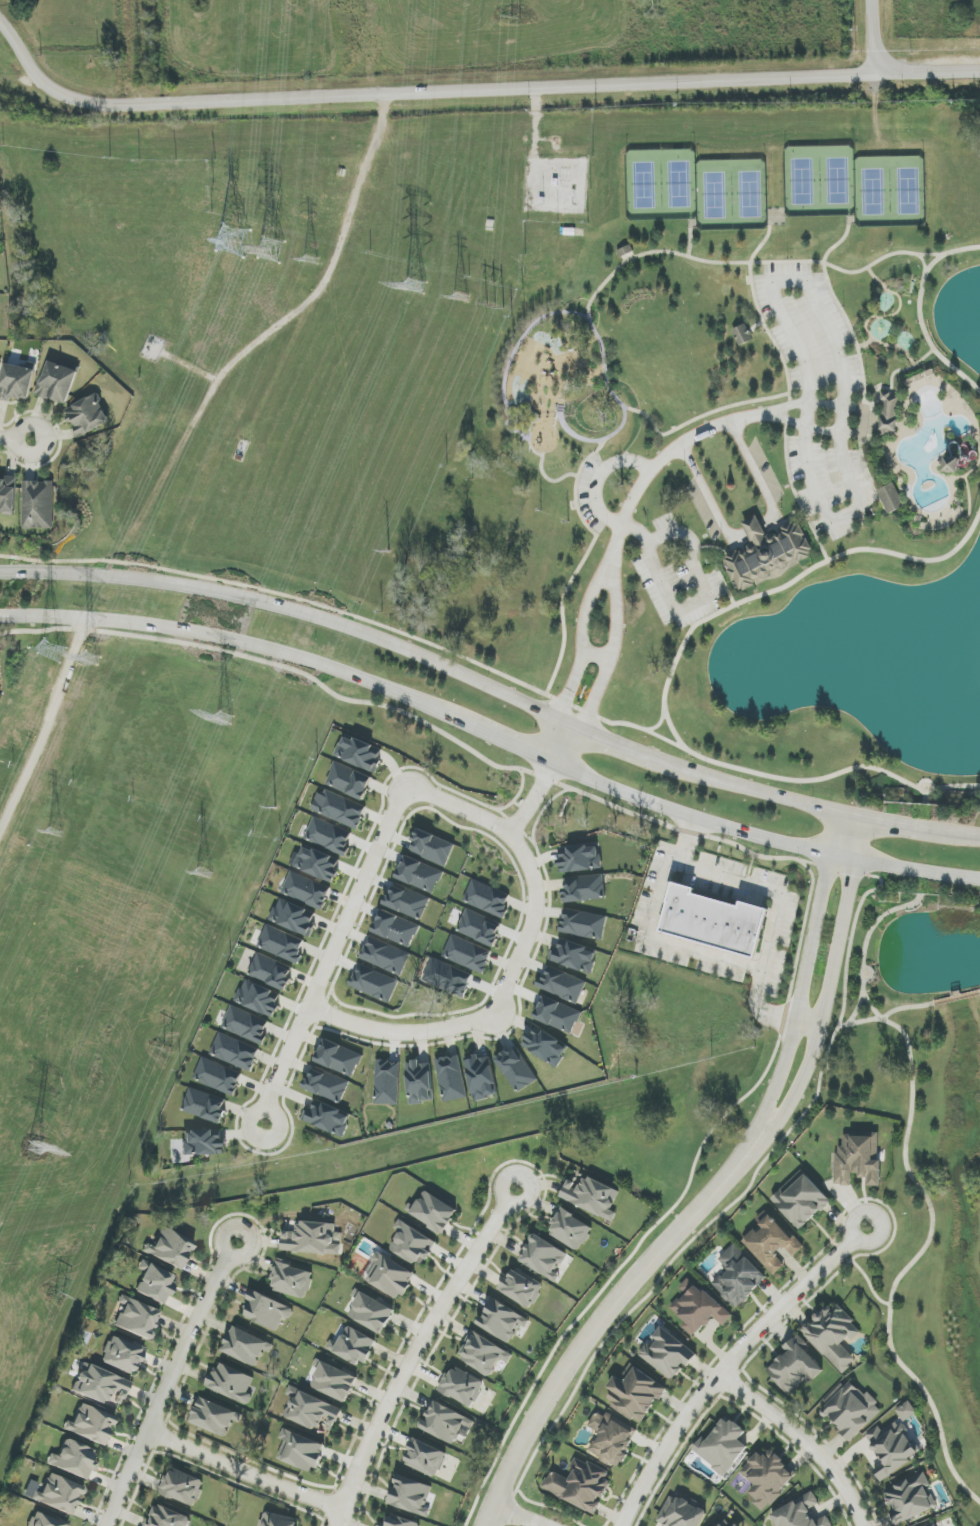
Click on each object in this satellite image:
road: (364, 9)
power tower: (516, 20)
road: (876, 37)
road: (122, 52)
road: (928, 73)
road: (372, 76)
road: (419, 93)
park: (837, 180)
park: (802, 181)
park: (645, 185)
park: (680, 185)
park: (908, 191)
park: (873, 192)
park: (750, 194)
park: (715, 195)
power tower: (231, 239)
power tower: (268, 254)
road: (933, 254)
road: (630, 258)
power tower: (312, 261)
road: (817, 262)
park: (868, 265)
road: (750, 272)
road: (322, 285)
power tower: (413, 288)
road: (896, 294)
park: (690, 296)
road: (229, 298)
power tower: (459, 298)
road: (842, 310)
power tower: (493, 313)
road: (552, 313)
road: (920, 313)
road: (757, 326)
building: (742, 335)
road: (831, 337)
road: (908, 355)
building: (0, 362)
road: (183, 364)
road: (895, 371)
building: (16, 382)
building: (57, 382)
road: (881, 389)
road: (739, 404)
road: (789, 408)
water park: (910, 408)
building: (890, 413)
building: (88, 415)
road: (802, 416)
road: (788, 421)
road: (870, 430)
road: (17, 438)
road: (787, 454)
road: (664, 458)
building: (956, 458)
road: (807, 471)
road: (600, 475)
power tower: (127, 480)
building: (8, 495)
building: (891, 498)
building: (38, 505)
road: (163, 507)
road: (753, 530)
road: (816, 536)
road: (736, 545)
building: (768, 553)
power tower: (387, 556)
road: (610, 570)
road: (699, 577)
road: (292, 611)
road: (233, 640)
road: (597, 656)
power tower: (88, 658)
road: (561, 661)
road: (671, 672)
road: (32, 703)
road: (43, 715)
power tower: (221, 718)
power tower: (14, 736)
road: (503, 741)
road: (615, 741)
building: (359, 753)
road: (543, 780)
building: (349, 781)
road: (749, 786)
road: (926, 797)
power tower: (277, 802)
traffic signals: (836, 807)
building: (339, 809)
traffic signals: (860, 813)
road: (906, 822)
road: (979, 832)
power tower: (49, 834)
building: (329, 836)
road: (761, 837)
building: (432, 847)
traffic signals: (828, 856)
road: (764, 857)
building: (581, 859)
traffic signals: (858, 862)
road: (811, 863)
building: (317, 864)
power tower: (203, 873)
building: (419, 875)
building: (585, 889)
building: (306, 890)
road: (773, 894)
building: (487, 899)
building: (407, 901)
building: (294, 917)
building: (714, 920)
building: (583, 924)
building: (396, 928)
building: (480, 928)
road: (869, 930)
building: (282, 944)
road: (669, 945)
building: (467, 954)
road: (331, 955)
building: (575, 956)
building: (385, 957)
road: (514, 964)
building: (271, 971)
building: (448, 978)
road: (801, 978)
building: (374, 983)
building: (562, 985)
road: (830, 989)
road: (979, 991)
road: (955, 997)
building: (259, 998)
road: (869, 1006)
road: (906, 1007)
road: (855, 1010)
building: (558, 1015)
road: (807, 1024)
building: (246, 1025)
building: (545, 1046)
power tower: (168, 1051)
building: (235, 1052)
building: (339, 1058)
building: (516, 1070)
building: (217, 1077)
building: (480, 1077)
building: (451, 1078)
building: (387, 1082)
building: (419, 1082)
building: (326, 1084)
building: (205, 1106)
building: (327, 1118)
building: (203, 1143)
power tower: (33, 1149)
building: (857, 1159)
building: (591, 1197)
building: (801, 1200)
road: (729, 1205)
building: (433, 1212)
building: (571, 1230)
building: (313, 1239)
building: (412, 1244)
road: (925, 1247)
building: (170, 1248)
building: (543, 1257)
building: (390, 1277)
building: (738, 1277)
road: (866, 1278)
building: (292, 1281)
building: (155, 1284)
building: (522, 1288)
power tower: (59, 1298)
building: (698, 1308)
building: (267, 1311)
building: (371, 1312)
building: (137, 1318)
building: (502, 1321)
road: (597, 1322)
building: (833, 1335)
building: (246, 1346)
building: (354, 1346)
road: (415, 1350)
building: (483, 1353)
building: (667, 1354)
building: (122, 1355)
road: (727, 1363)
building: (795, 1367)
building: (334, 1381)
road: (171, 1383)
building: (231, 1383)
building: (101, 1386)
building: (462, 1387)
building: (635, 1394)
building: (311, 1410)
building: (851, 1410)
building: (906, 1411)
building: (215, 1417)
building: (445, 1422)
building: (91, 1424)
building: (612, 1438)
road: (801, 1438)
building: (722, 1447)
building: (892, 1449)
building: (300, 1451)
building: (425, 1458)
building: (75, 1459)
road: (246, 1471)
building: (767, 1478)
building: (580, 1485)
building: (182, 1487)
building: (59, 1494)
building: (410, 1496)
building: (909, 1498)
building: (681, 1513)
building: (800, 1513)
road: (513, 1516)
building: (167, 1517)
building: (278, 1520)
building: (396, 1521)
building: (722, 1525)
building: (736, 1525)

